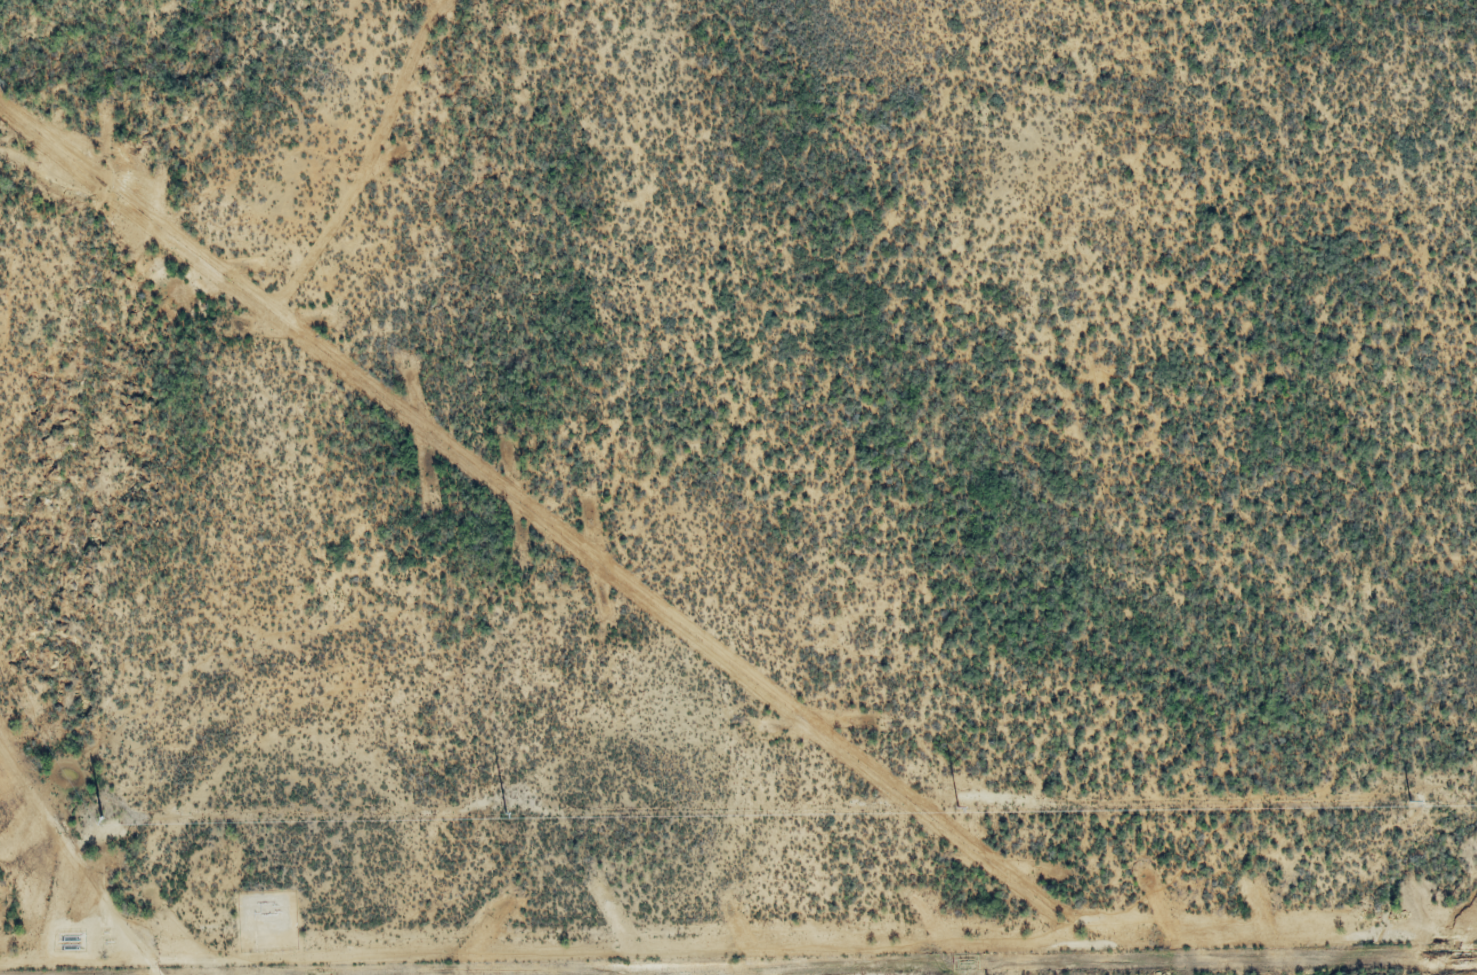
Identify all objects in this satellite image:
power tower: (1410, 801)
power tower: (959, 805)
power tower: (503, 810)
power tower: (101, 818)

